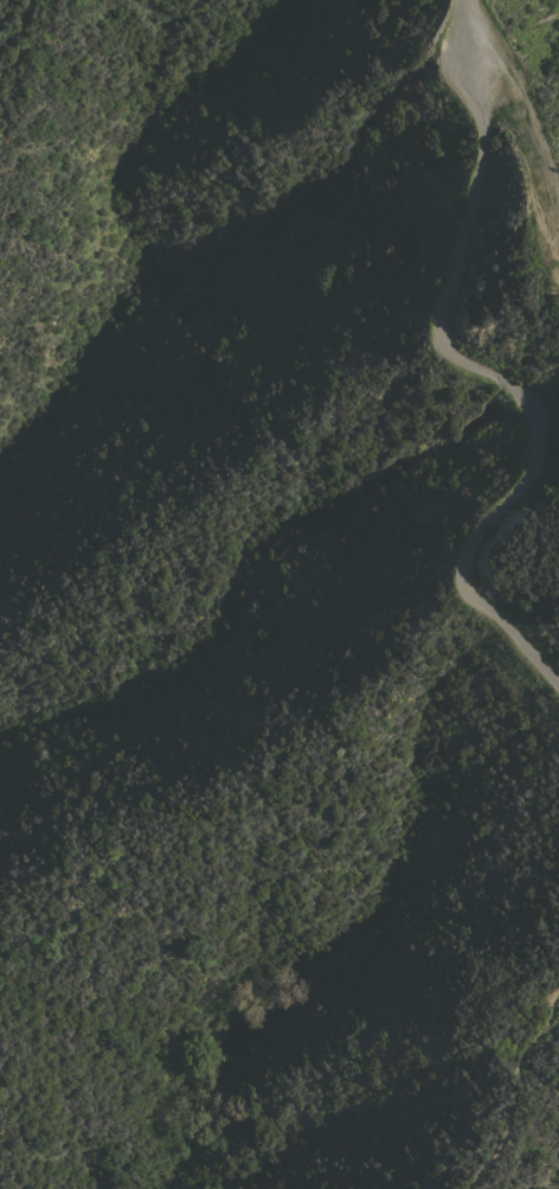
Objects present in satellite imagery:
road: (474, 17)
road: (17, 41)
road: (527, 115)
road: (1, 122)
road: (486, 372)
road: (513, 1089)

